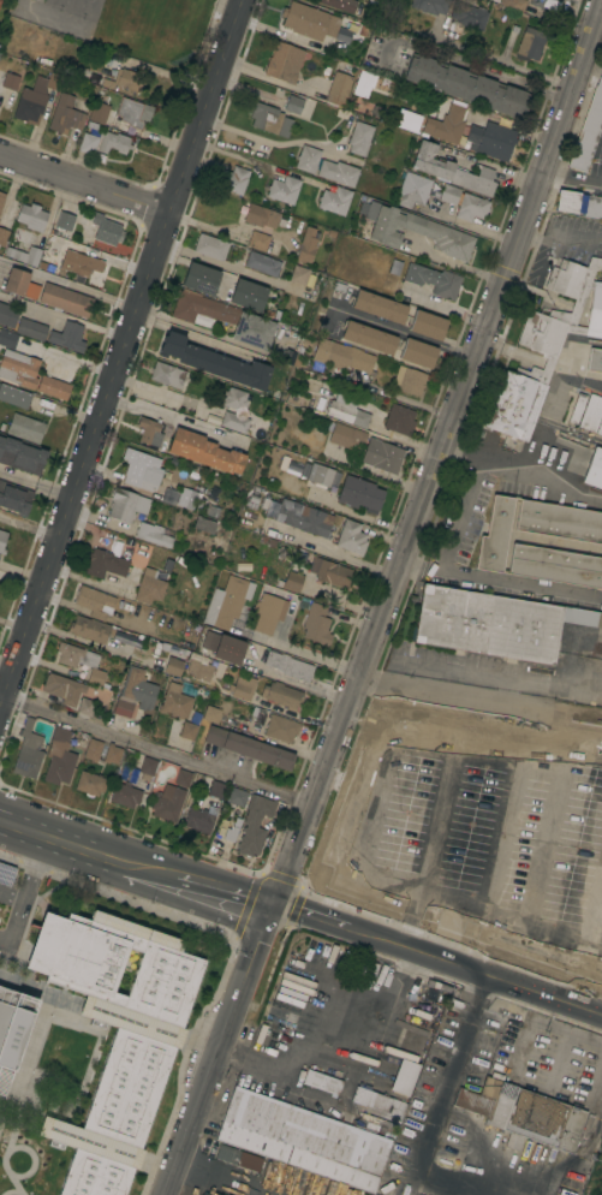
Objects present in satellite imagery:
building: (36, 0)
building: (495, 0)
building: (340, 4)
building: (513, 4)
building: (430, 5)
building: (548, 5)
building: (469, 14)
building: (309, 20)
building: (340, 32)
building: (530, 43)
building: (284, 61)
road: (490, 61)
building: (89, 75)
building: (10, 81)
building: (364, 83)
building: (466, 85)
building: (336, 88)
building: (35, 97)
building: (293, 103)
building: (97, 112)
building: (133, 112)
building: (65, 115)
building: (270, 119)
building: (407, 120)
building: (446, 124)
building: (588, 129)
building: (359, 137)
building: (493, 138)
road: (267, 141)
building: (103, 143)
road: (234, 155)
building: (308, 159)
building: (452, 170)
building: (338, 172)
building: (233, 179)
road: (84, 183)
road: (570, 183)
building: (284, 189)
building: (412, 190)
building: (449, 194)
building: (1, 197)
building: (334, 200)
building: (579, 203)
building: (471, 207)
building: (261, 215)
building: (31, 216)
building: (64, 220)
road: (464, 225)
building: (106, 230)
road: (228, 231)
building: (416, 231)
building: (4, 236)
building: (258, 240)
building: (306, 244)
building: (211, 246)
building: (24, 255)
building: (81, 262)
building: (263, 263)
road: (457, 266)
building: (394, 267)
road: (234, 269)
building: (299, 274)
building: (201, 278)
building: (434, 280)
building: (20, 284)
road: (67, 284)
building: (338, 284)
building: (248, 295)
building: (65, 299)
building: (379, 307)
building: (7, 316)
road: (62, 316)
building: (223, 319)
building: (428, 325)
building: (31, 329)
road: (401, 334)
building: (67, 337)
building: (368, 337)
building: (7, 338)
road: (197, 338)
building: (544, 347)
road: (120, 350)
building: (303, 351)
building: (418, 352)
building: (347, 357)
road: (67, 358)
building: (595, 359)
building: (214, 362)
building: (18, 369)
building: (167, 374)
building: (410, 380)
building: (53, 388)
road: (150, 388)
building: (13, 396)
building: (293, 398)
building: (236, 399)
road: (403, 399)
building: (577, 408)
building: (345, 410)
building: (591, 412)
road: (168, 417)
building: (400, 420)
building: (234, 421)
building: (25, 428)
building: (600, 428)
building: (149, 430)
building: (347, 436)
road: (463, 448)
building: (203, 451)
building: (382, 454)
building: (22, 456)
road: (487, 463)
building: (294, 465)
building: (594, 469)
building: (142, 470)
building: (305, 470)
building: (320, 475)
road: (35, 484)
building: (359, 494)
building: (180, 497)
building: (254, 497)
building: (14, 498)
building: (266, 501)
building: (126, 504)
building: (211, 511)
building: (300, 517)
building: (559, 521)
building: (208, 525)
road: (29, 527)
building: (153, 534)
building: (494, 535)
building: (351, 537)
building: (2, 541)
road: (333, 552)
building: (105, 564)
building: (555, 565)
building: (329, 572)
road: (500, 579)
building: (292, 581)
road: (19, 582)
building: (149, 587)
road: (385, 599)
building: (93, 601)
building: (227, 601)
building: (270, 606)
building: (493, 623)
building: (262, 624)
building: (316, 624)
building: (90, 629)
building: (127, 640)
building: (209, 640)
road: (87, 643)
building: (230, 649)
road: (300, 652)
building: (82, 661)
building: (288, 665)
building: (173, 666)
road: (5, 667)
building: (199, 670)
building: (242, 686)
building: (62, 688)
building: (135, 692)
building: (281, 695)
road: (443, 695)
building: (174, 701)
building: (87, 707)
building: (211, 714)
building: (281, 729)
building: (187, 730)
road: (538, 732)
building: (249, 748)
road: (156, 749)
building: (93, 750)
building: (28, 751)
building: (112, 754)
building: (59, 757)
building: (422, 757)
building: (148, 768)
building: (183, 778)
building: (90, 784)
building: (216, 790)
building: (125, 795)
building: (237, 799)
building: (167, 802)
road: (440, 818)
building: (198, 820)
road: (368, 822)
building: (467, 824)
building: (255, 825)
road: (500, 833)
building: (230, 834)
road: (548, 838)
road: (66, 840)
parking lot: (11, 879)
road: (202, 884)
road: (28, 894)
road: (13, 896)
traffic signals: (270, 904)
building: (580, 910)
road: (595, 914)
parking lot: (5, 915)
road: (309, 916)
building: (519, 938)
road: (475, 970)
road: (357, 1022)
building: (13, 1025)
building: (115, 1036)
road: (451, 1074)
building: (322, 1082)
building: (387, 1089)
road: (321, 1100)
building: (525, 1113)
building: (303, 1140)
building: (239, 1158)

